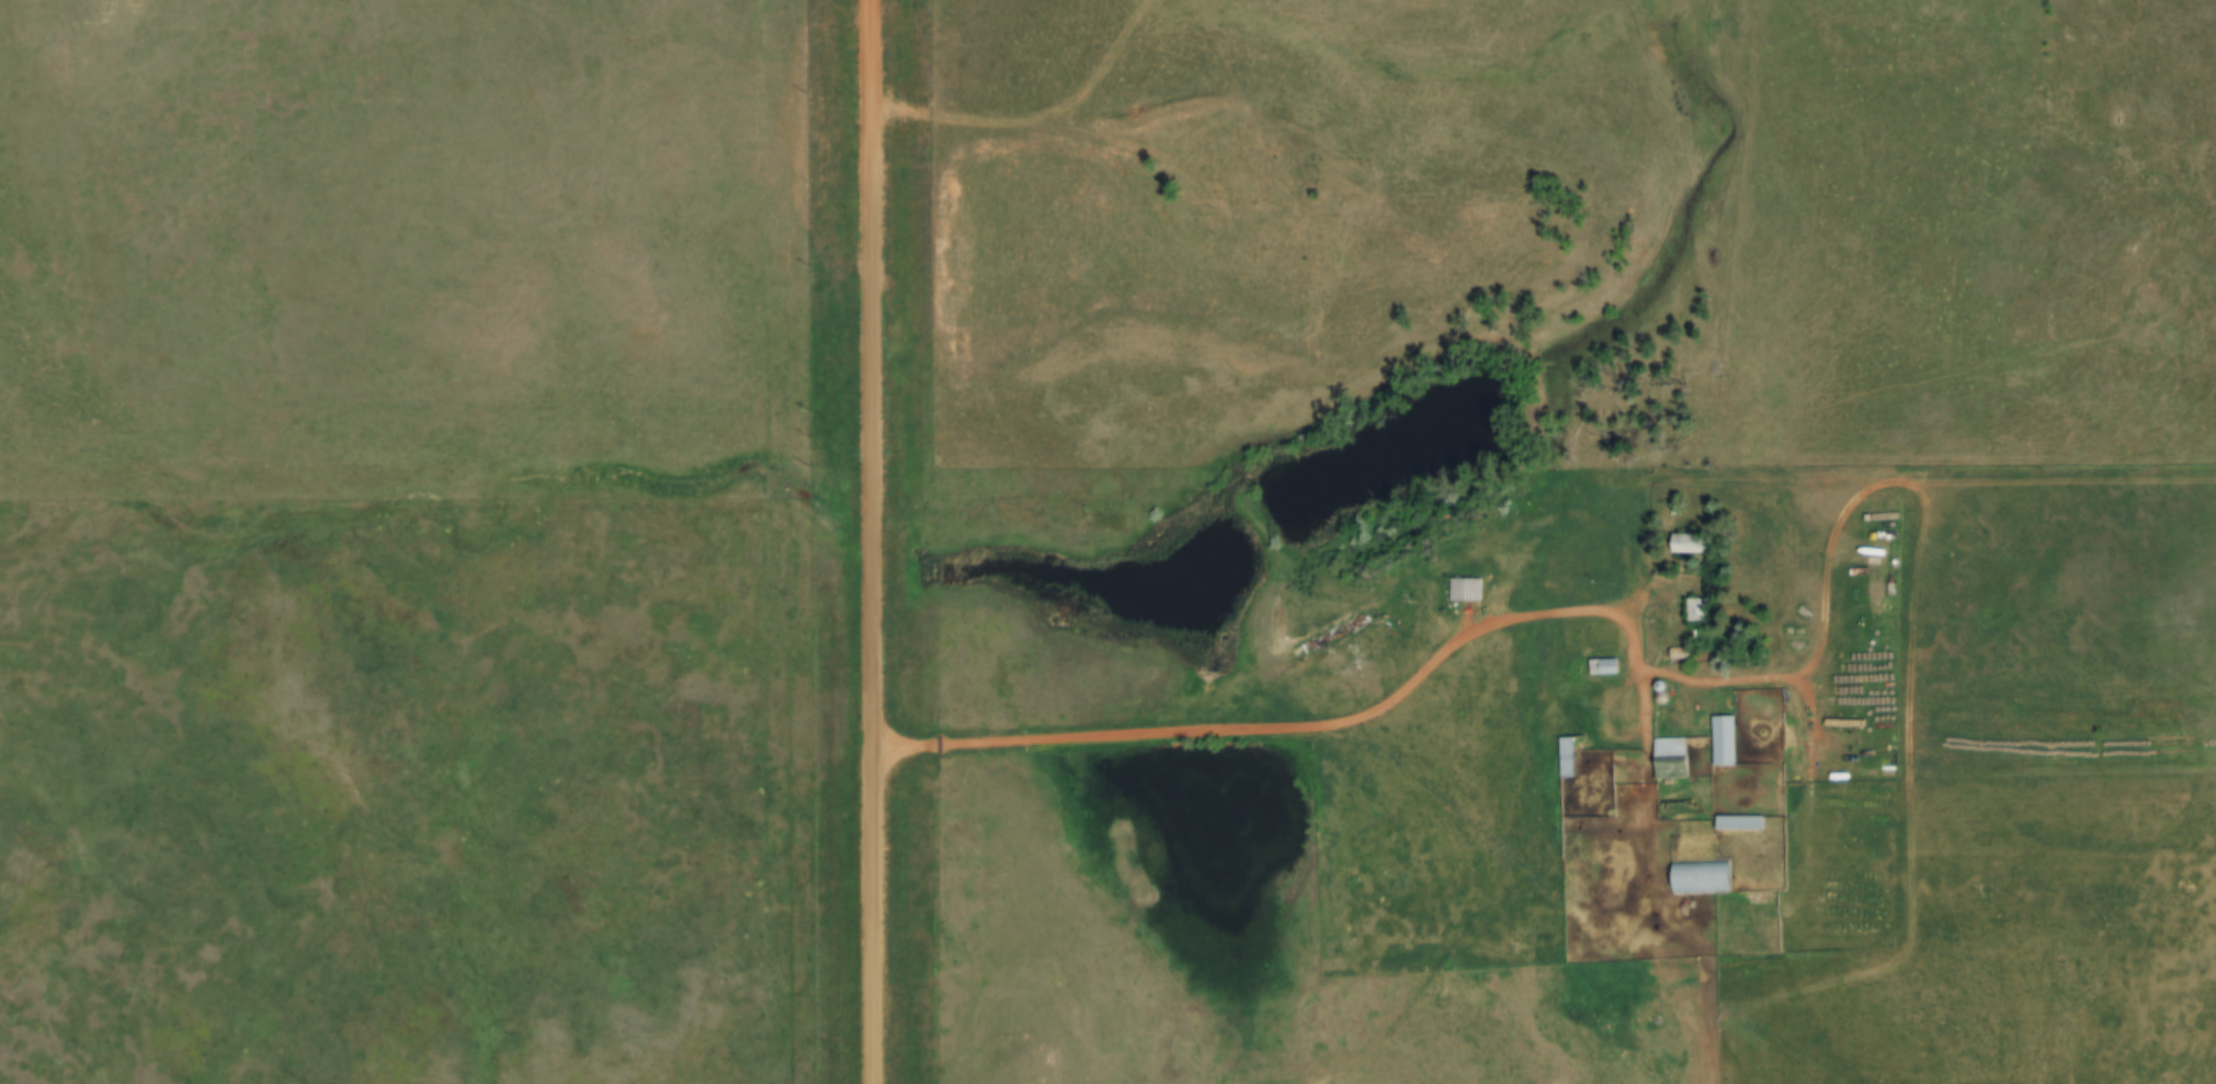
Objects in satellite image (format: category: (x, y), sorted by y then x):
quarry: (1412, 0)
road: (1030, 112)
road: (1936, 484)
road: (872, 541)
building: (1693, 543)
building: (1469, 589)
building: (1700, 611)
building: (1610, 667)
road: (1367, 717)
building: (1727, 741)
building: (1572, 757)
building: (1674, 758)
building: (1745, 823)
road: (1906, 860)

